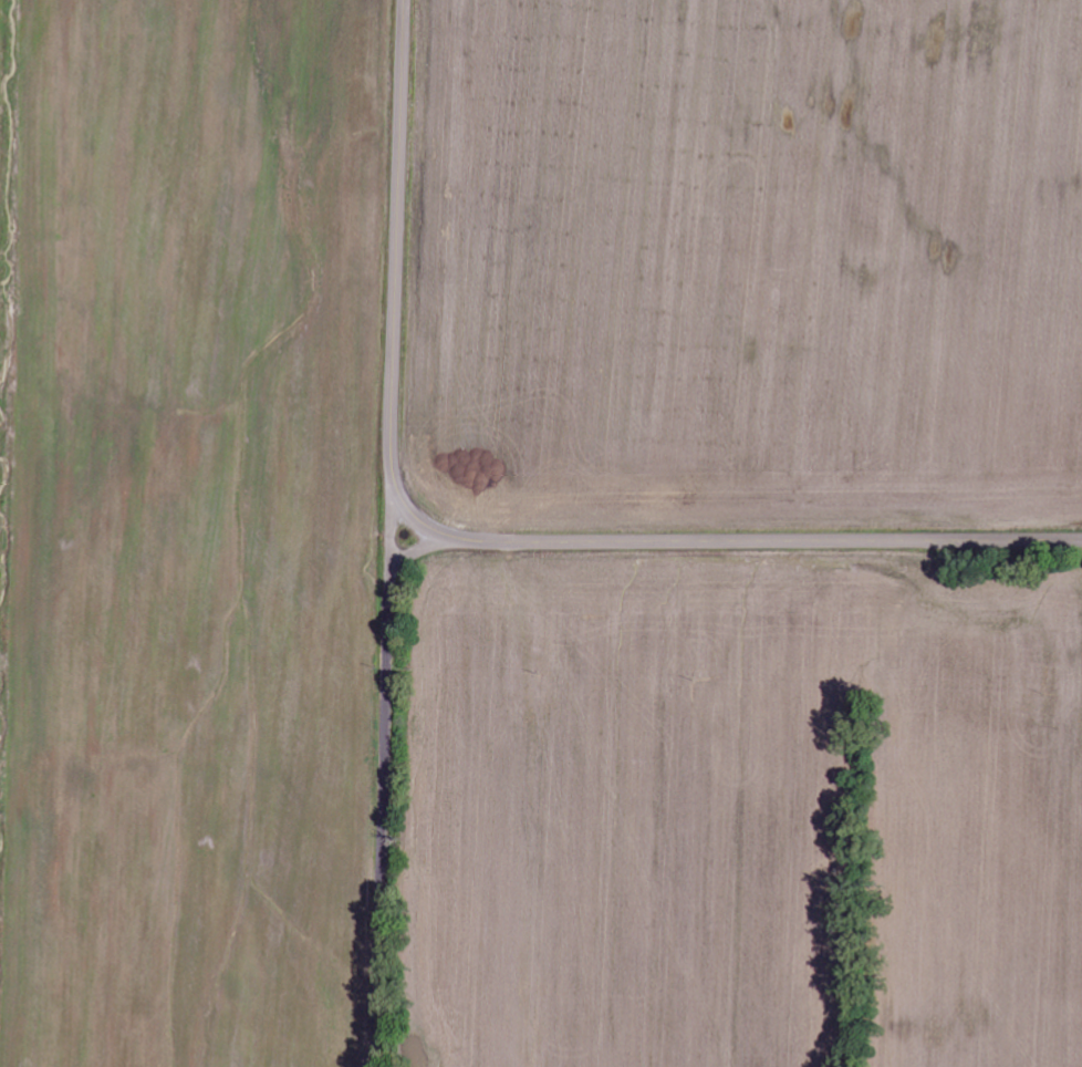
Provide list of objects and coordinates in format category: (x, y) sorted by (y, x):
road: (393, 537)
road: (483, 541)
road: (377, 781)

